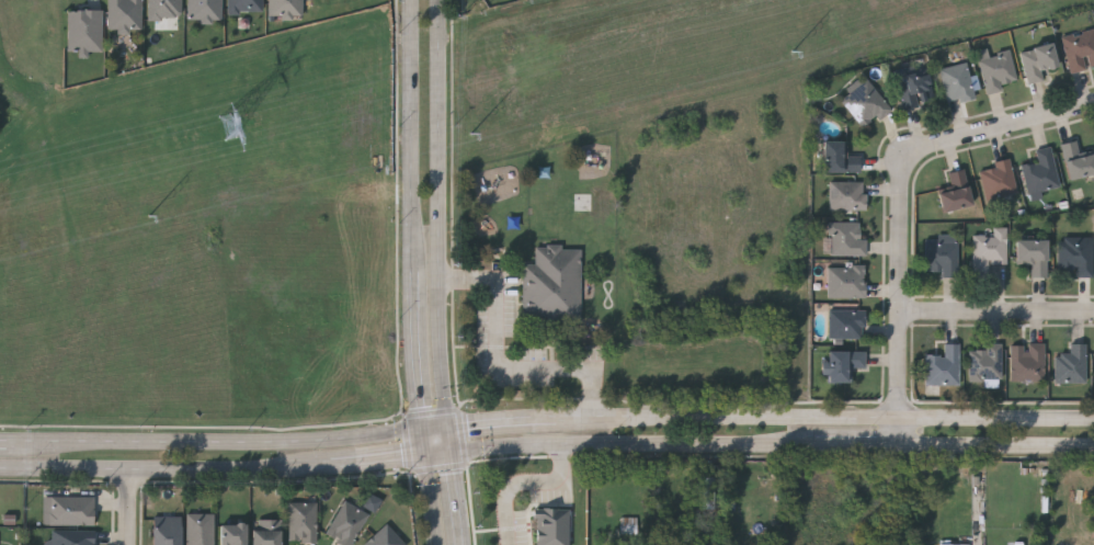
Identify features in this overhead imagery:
building: (246, 5)
building: (286, 8)
building: (166, 9)
building: (206, 10)
building: (125, 14)
building: (84, 31)
building: (1080, 49)
building: (1038, 61)
building: (998, 71)
building: (957, 82)
building: (915, 88)
building: (866, 103)
power tower: (251, 118)
road: (1001, 132)
road: (413, 135)
building: (840, 158)
building: (1078, 161)
building: (1041, 172)
building: (999, 180)
building: (956, 192)
building: (848, 195)
road: (442, 213)
building: (847, 239)
building: (990, 251)
building: (943, 253)
building: (1076, 254)
building: (1034, 256)
building: (847, 281)
building: (554, 285)
road: (904, 300)
road: (1000, 315)
building: (848, 323)
road: (418, 350)
building: (987, 363)
building: (1028, 363)
road: (501, 365)
building: (843, 365)
building: (1072, 365)
building: (944, 367)
road: (432, 411)
road: (825, 417)
road: (503, 421)
traffic signals: (451, 427)
road: (437, 428)
traffic signals: (425, 429)
road: (464, 435)
road: (3, 439)
road: (452, 439)
road: (216, 441)
road: (426, 441)
road: (634, 442)
road: (857, 442)
road: (409, 443)
road: (996, 443)
traffic signals: (453, 451)
road: (440, 452)
traffic signals: (428, 454)
road: (380, 458)
road: (441, 467)
road: (167, 468)
road: (525, 482)
building: (707, 493)
road: (457, 498)
road: (431, 499)
road: (130, 507)
building: (69, 511)
building: (1093, 515)
building: (303, 522)
building: (346, 524)
building: (630, 524)
building: (554, 526)
building: (201, 529)
building: (167, 532)
building: (266, 532)
building: (233, 534)
building: (71, 537)
building: (386, 537)
building: (956, 544)

